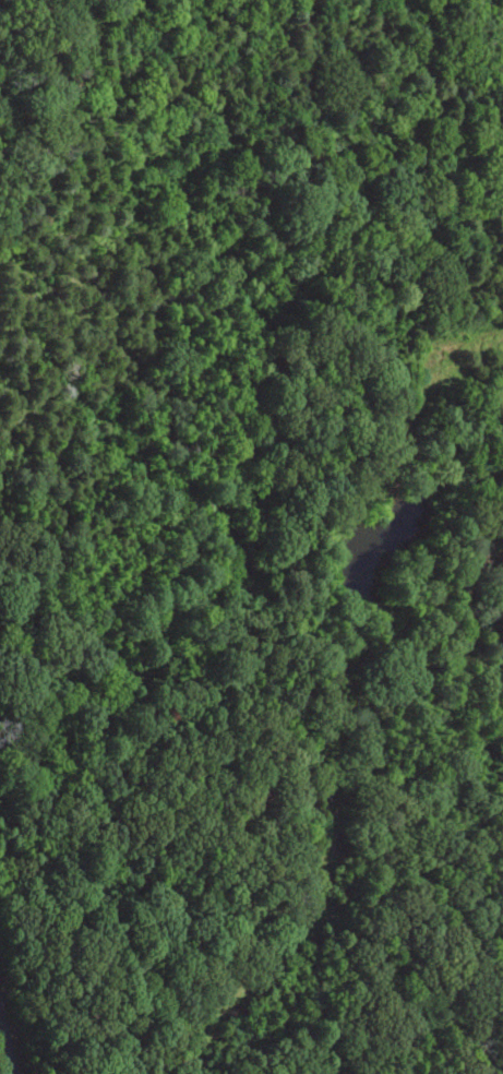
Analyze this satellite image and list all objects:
road: (9, 1040)

